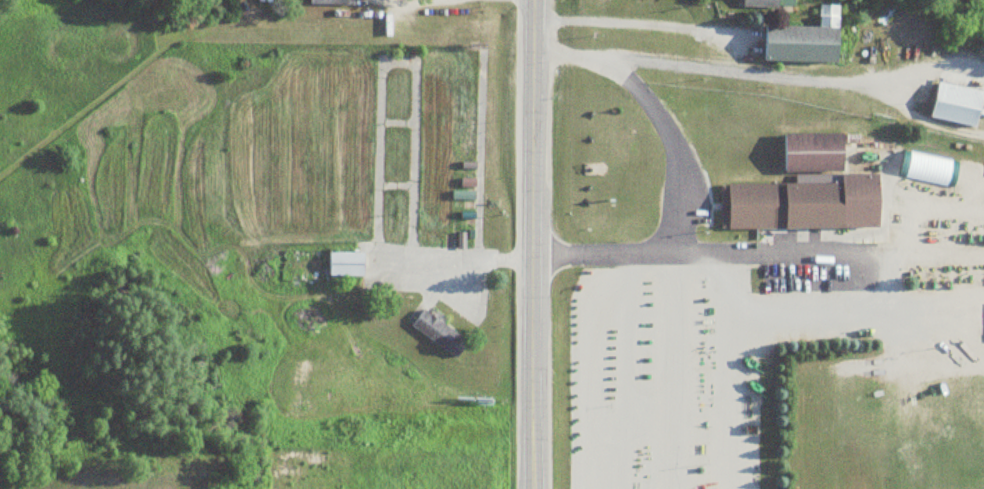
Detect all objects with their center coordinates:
building: (329, 2)
building: (766, 4)
building: (801, 40)
building: (954, 105)
building: (811, 153)
building: (926, 169)
building: (800, 205)
road: (536, 244)
building: (344, 265)
building: (983, 324)
building: (438, 334)

